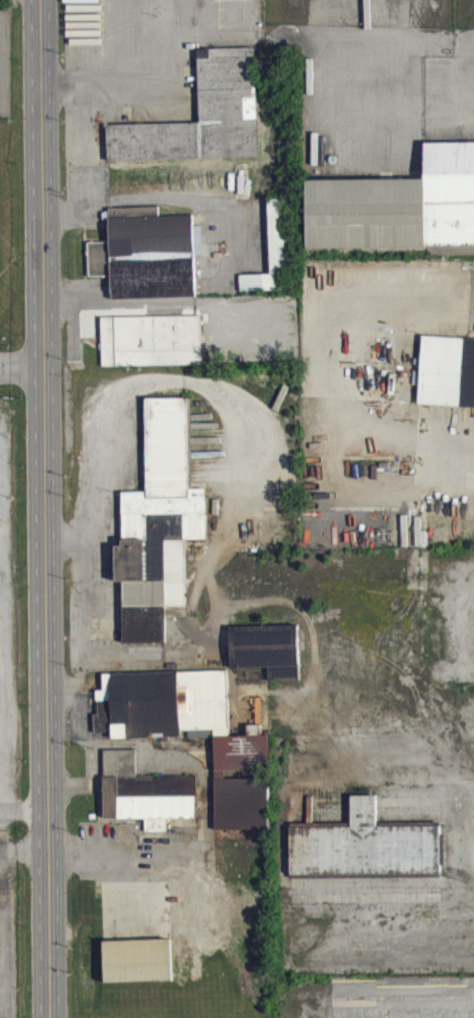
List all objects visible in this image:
road: (115, 79)
building: (203, 124)
building: (399, 214)
building: (148, 262)
building: (248, 289)
road: (20, 377)
building: (444, 380)
building: (169, 455)
road: (451, 462)
road: (43, 509)
building: (153, 587)
building: (268, 658)
building: (179, 721)
building: (147, 801)
road: (24, 819)
building: (366, 854)
building: (139, 969)

